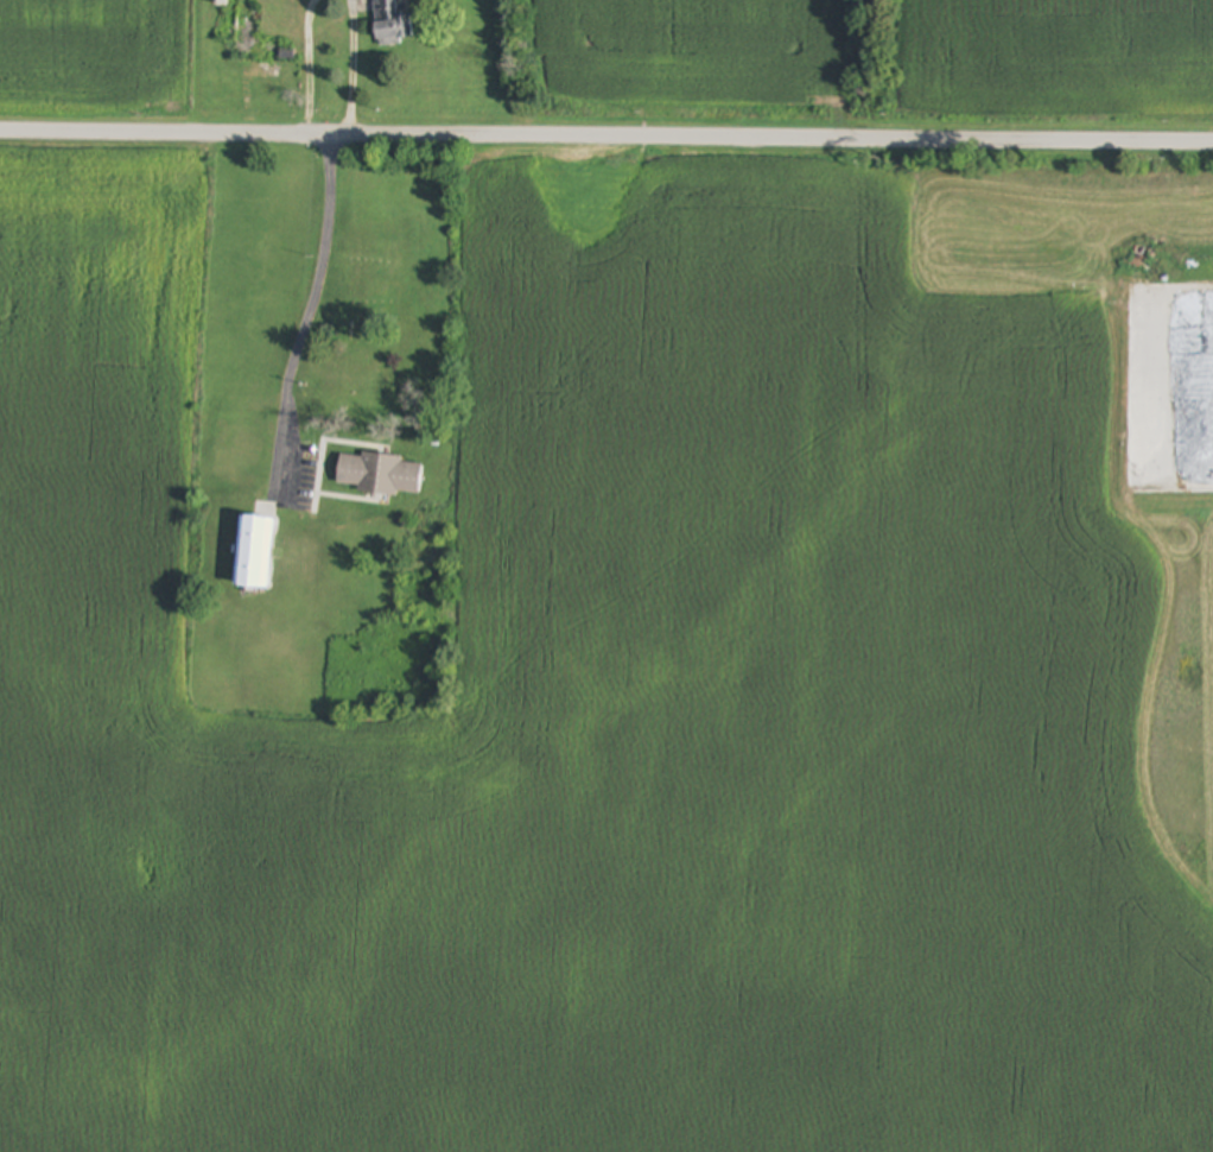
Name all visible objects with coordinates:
building: (393, 24)
building: (250, 36)
road: (310, 67)
road: (354, 68)
road: (605, 138)
road: (309, 308)
building: (379, 475)

